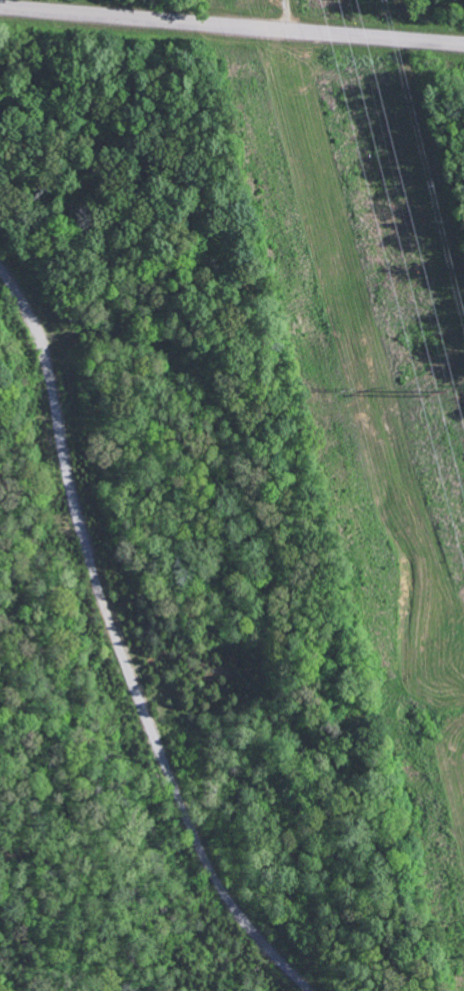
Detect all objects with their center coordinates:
road: (232, 25)
power tower: (337, 387)
power tower: (430, 392)

